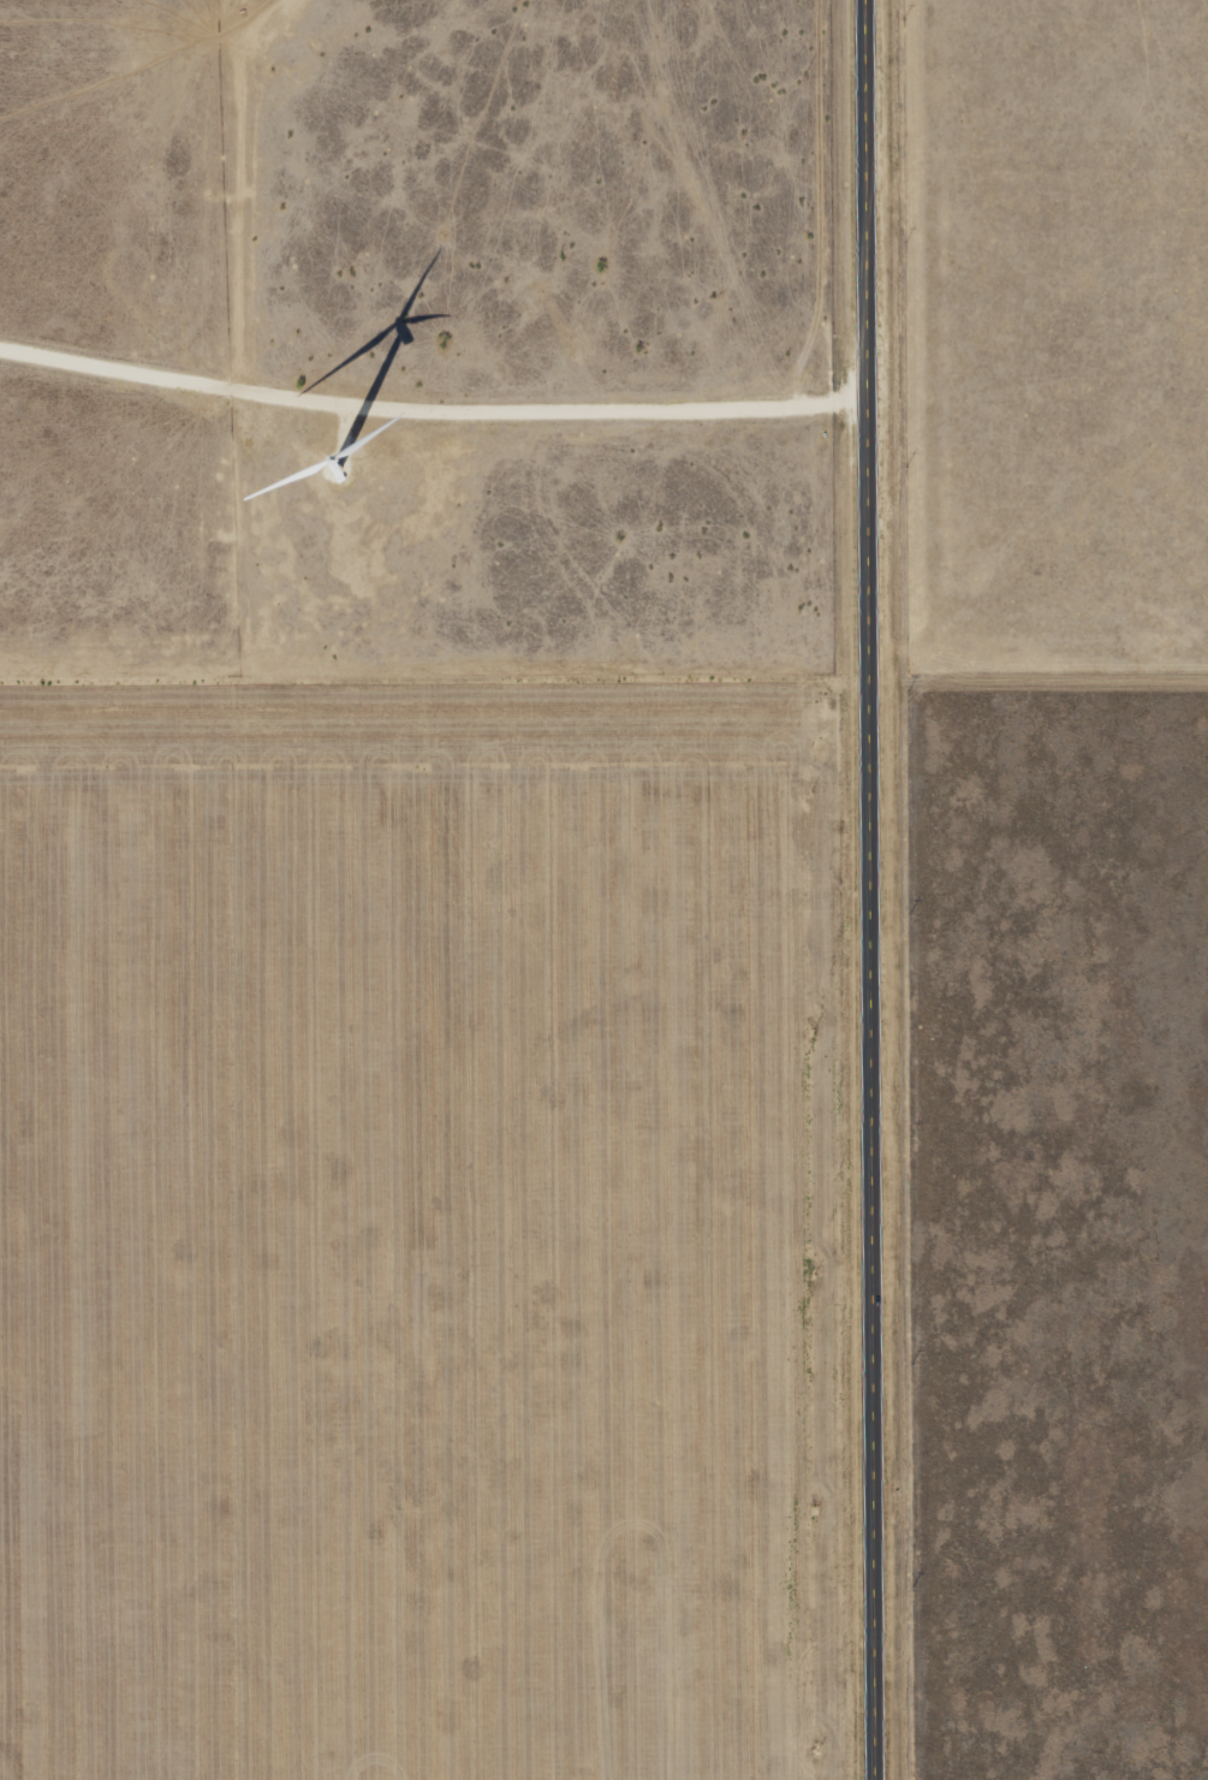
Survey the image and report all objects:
wind turbine: (329, 474)
road: (867, 890)

